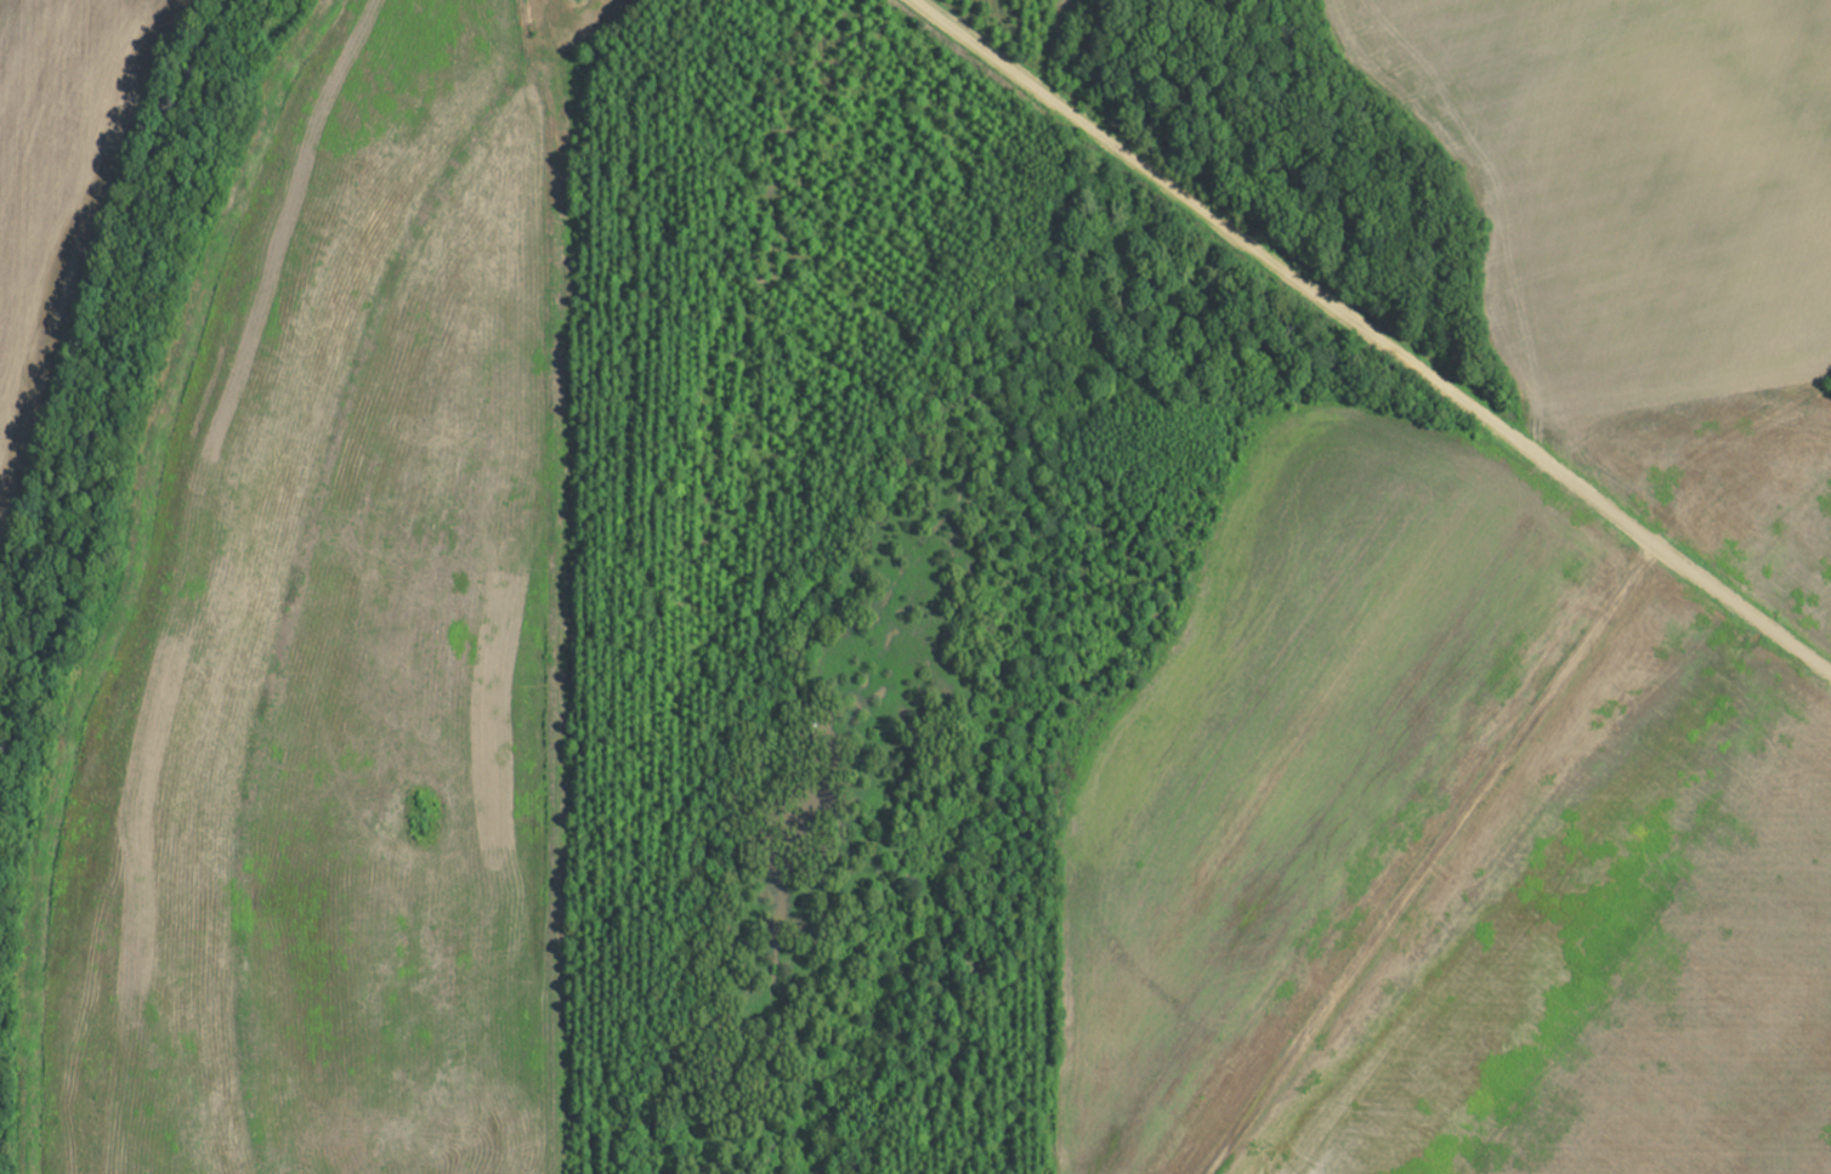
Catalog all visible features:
road: (1376, 336)
road: (1429, 858)

